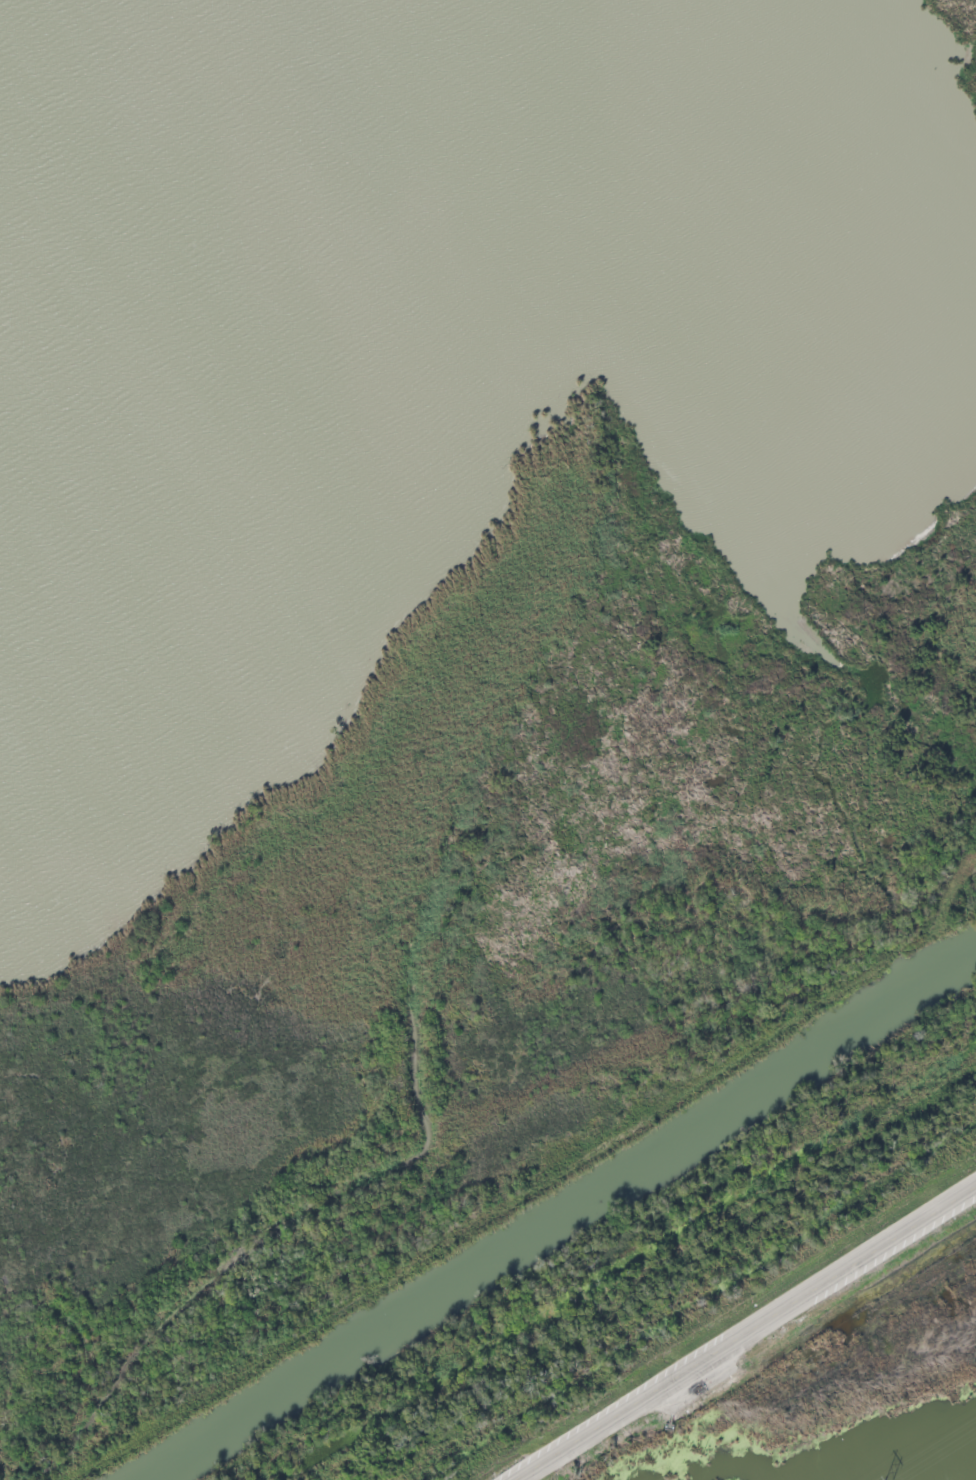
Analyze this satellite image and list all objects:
road: (745, 1333)

